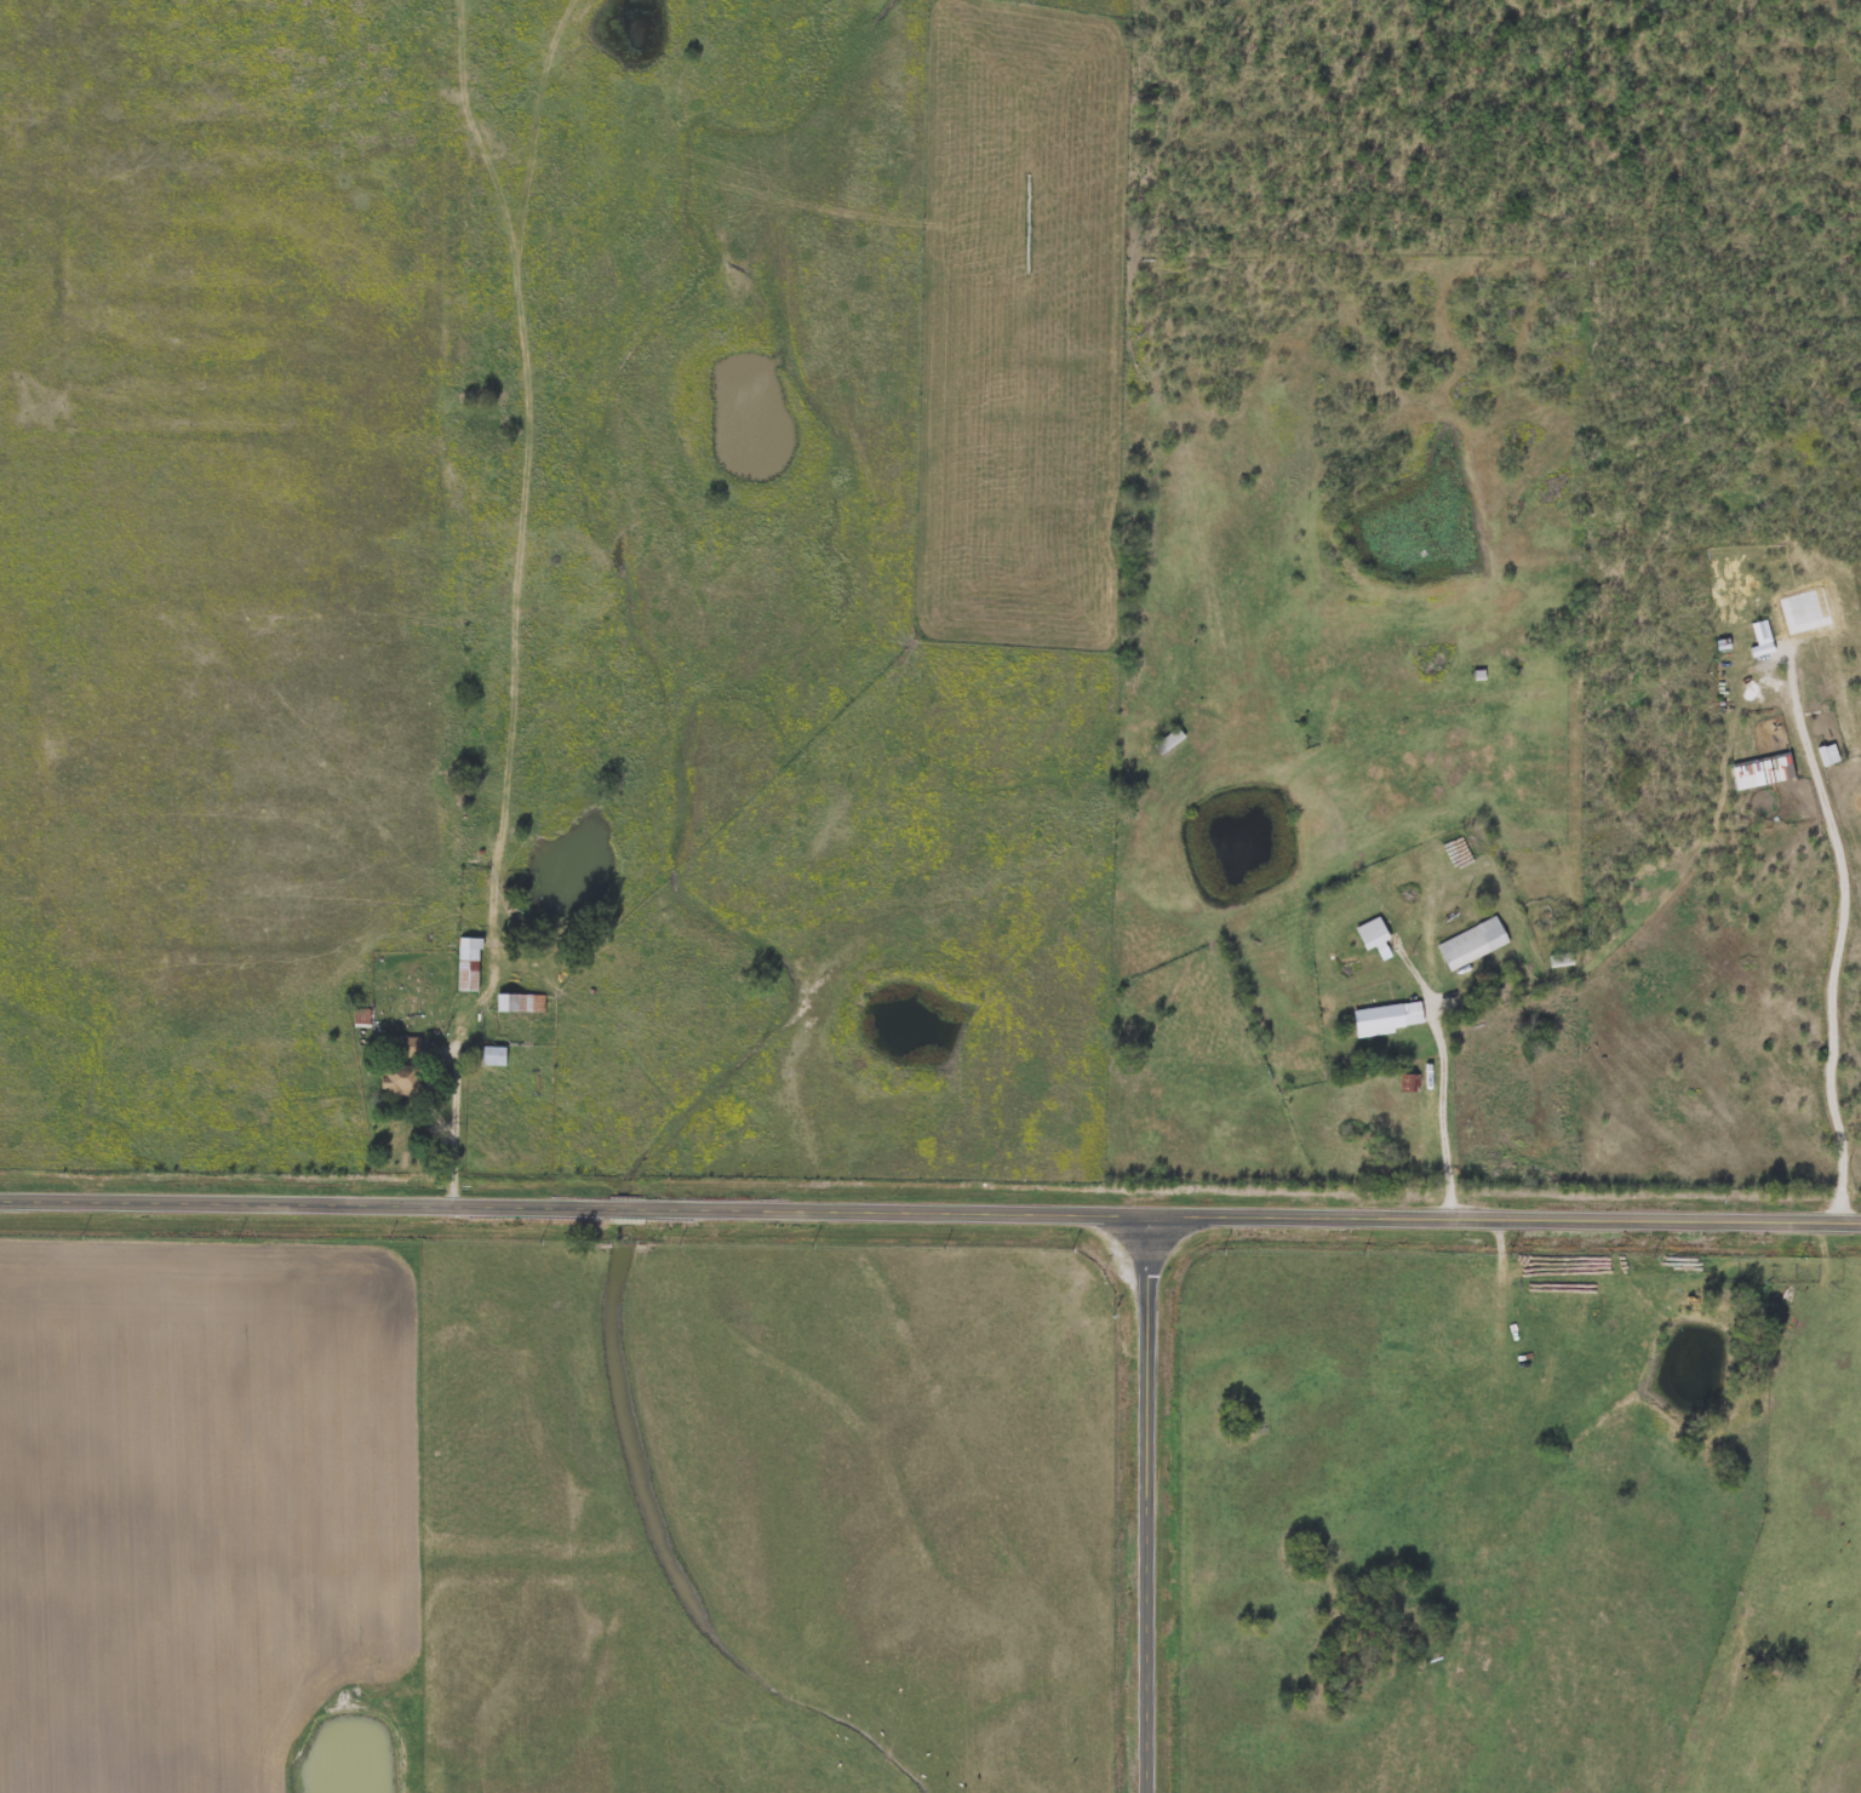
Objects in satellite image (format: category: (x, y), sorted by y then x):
building: (1167, 740)
building: (1368, 935)
building: (1471, 943)
building: (1559, 961)
building: (468, 964)
building: (519, 1002)
building: (360, 1016)
building: (1387, 1018)
building: (492, 1055)
building: (399, 1066)
road: (1444, 1106)
road: (457, 1113)
road: (930, 1207)
road: (1141, 1501)

